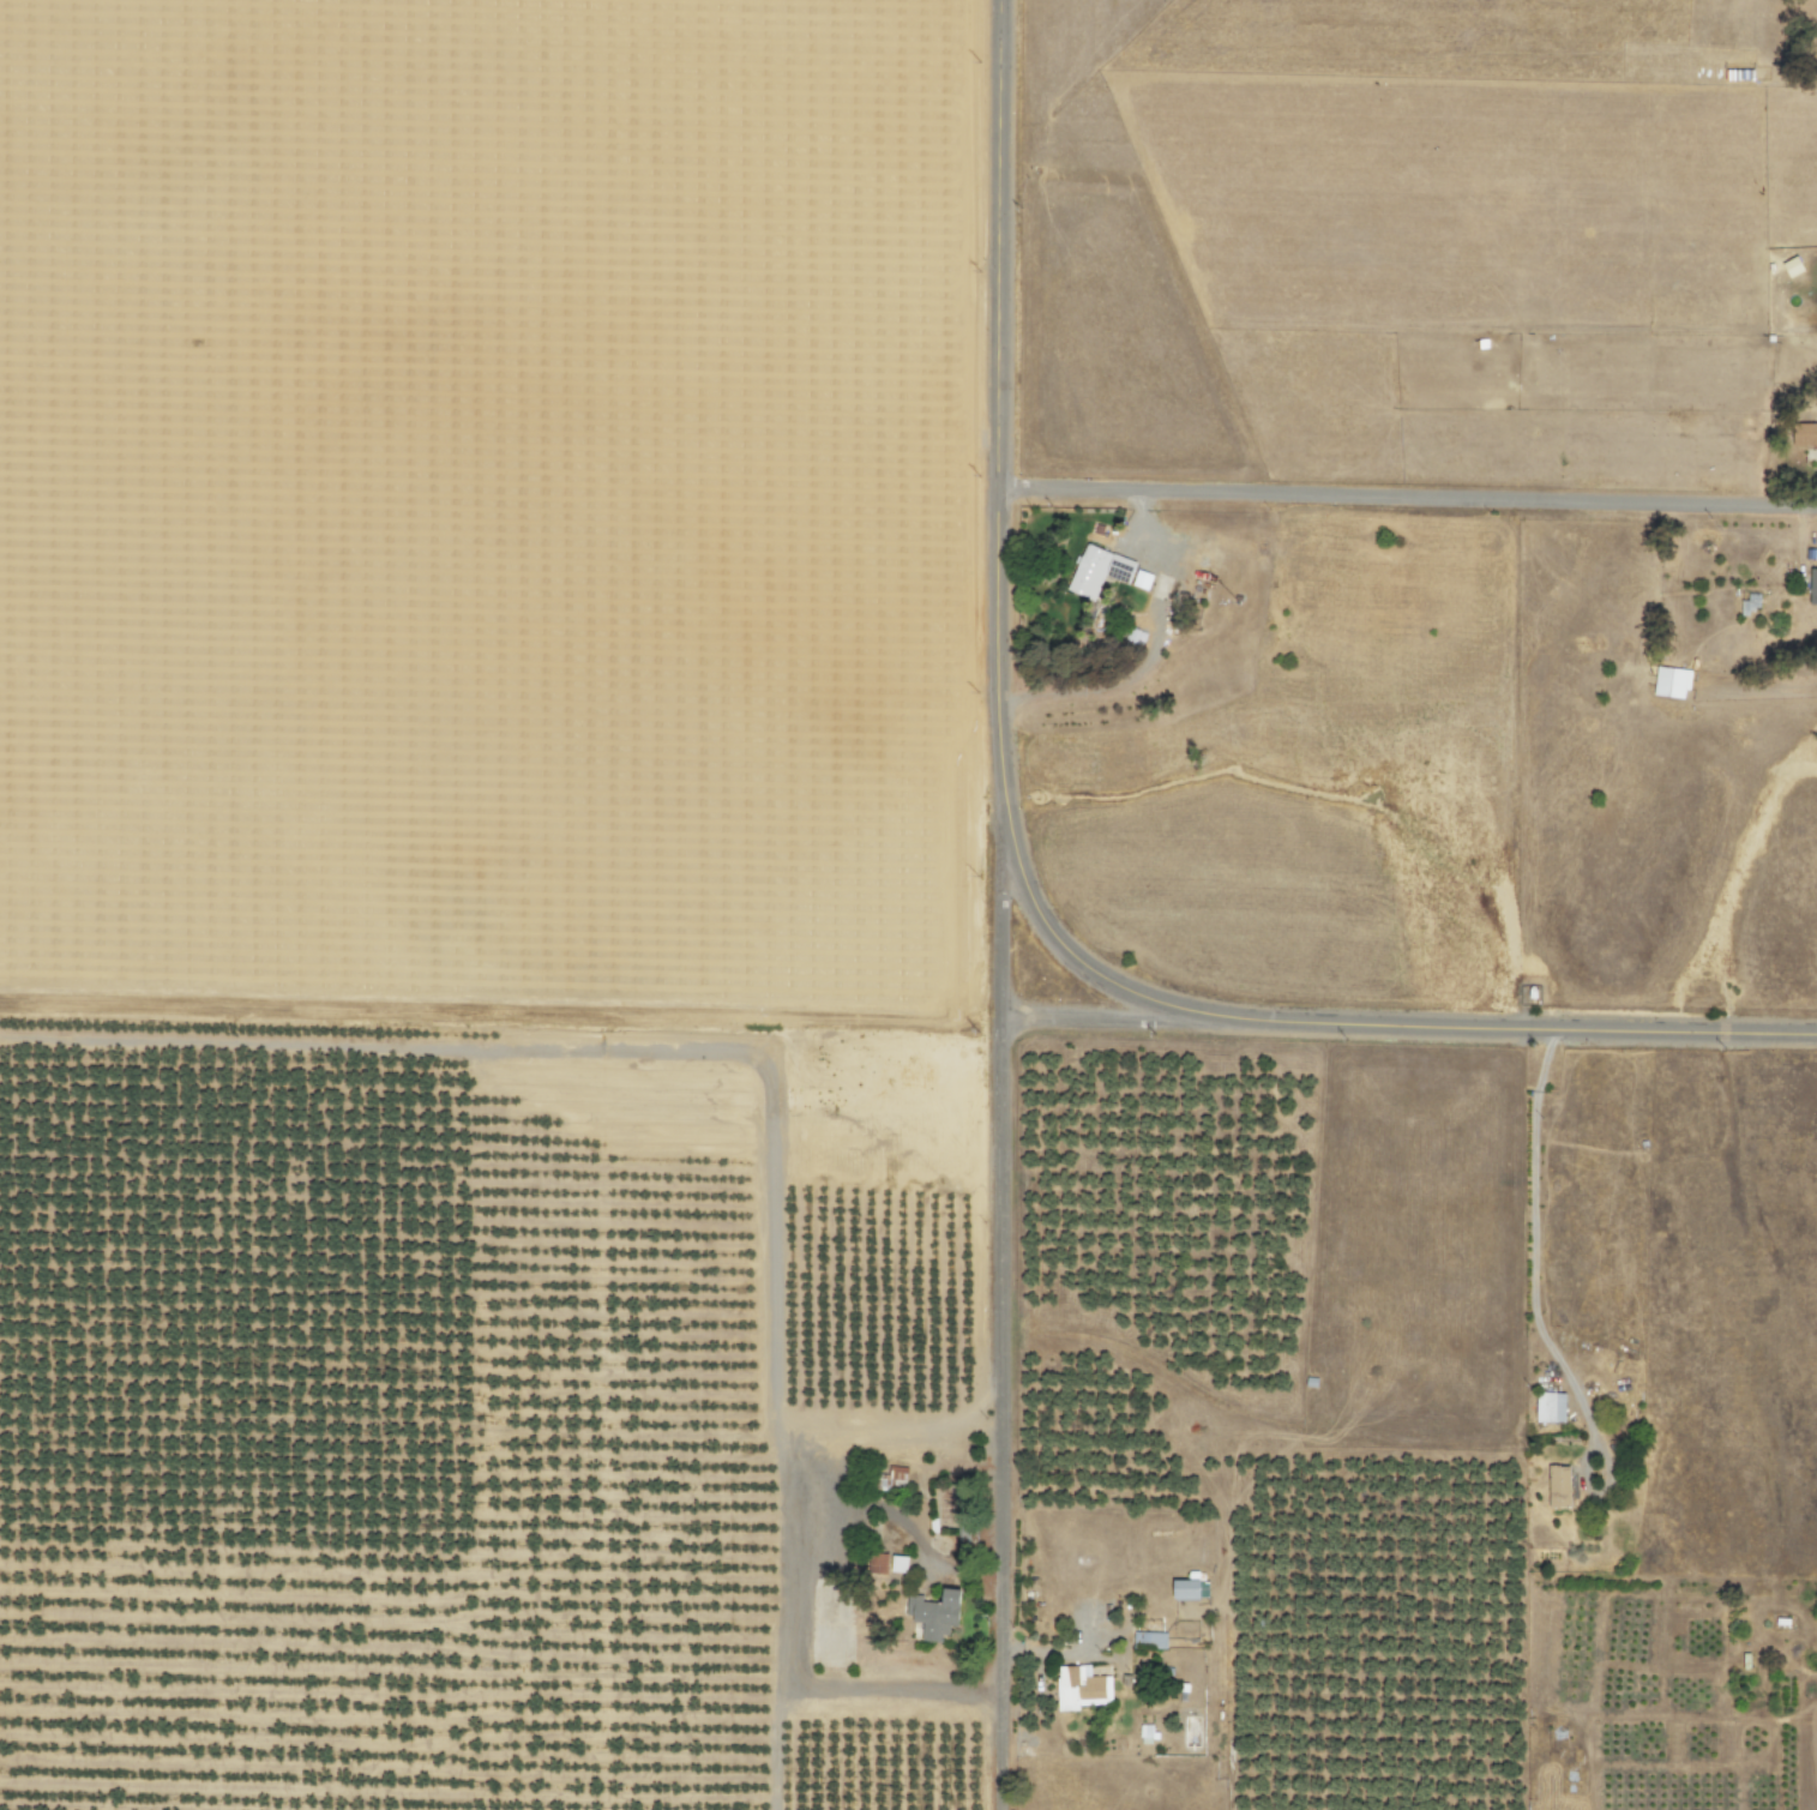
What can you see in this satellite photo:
wastewater plant: (1113, 350)
building: (1805, 435)
road: (1404, 497)
road: (993, 558)
building: (1097, 571)
building: (1141, 579)
building: (1812, 587)
building: (1671, 682)
road: (1097, 1021)
road: (1508, 1028)
road: (1000, 1300)
building: (1548, 1407)
building: (896, 1477)
building: (1558, 1486)
building: (898, 1564)
building: (1186, 1589)
building: (934, 1614)
building: (1148, 1641)
building: (1079, 1688)

